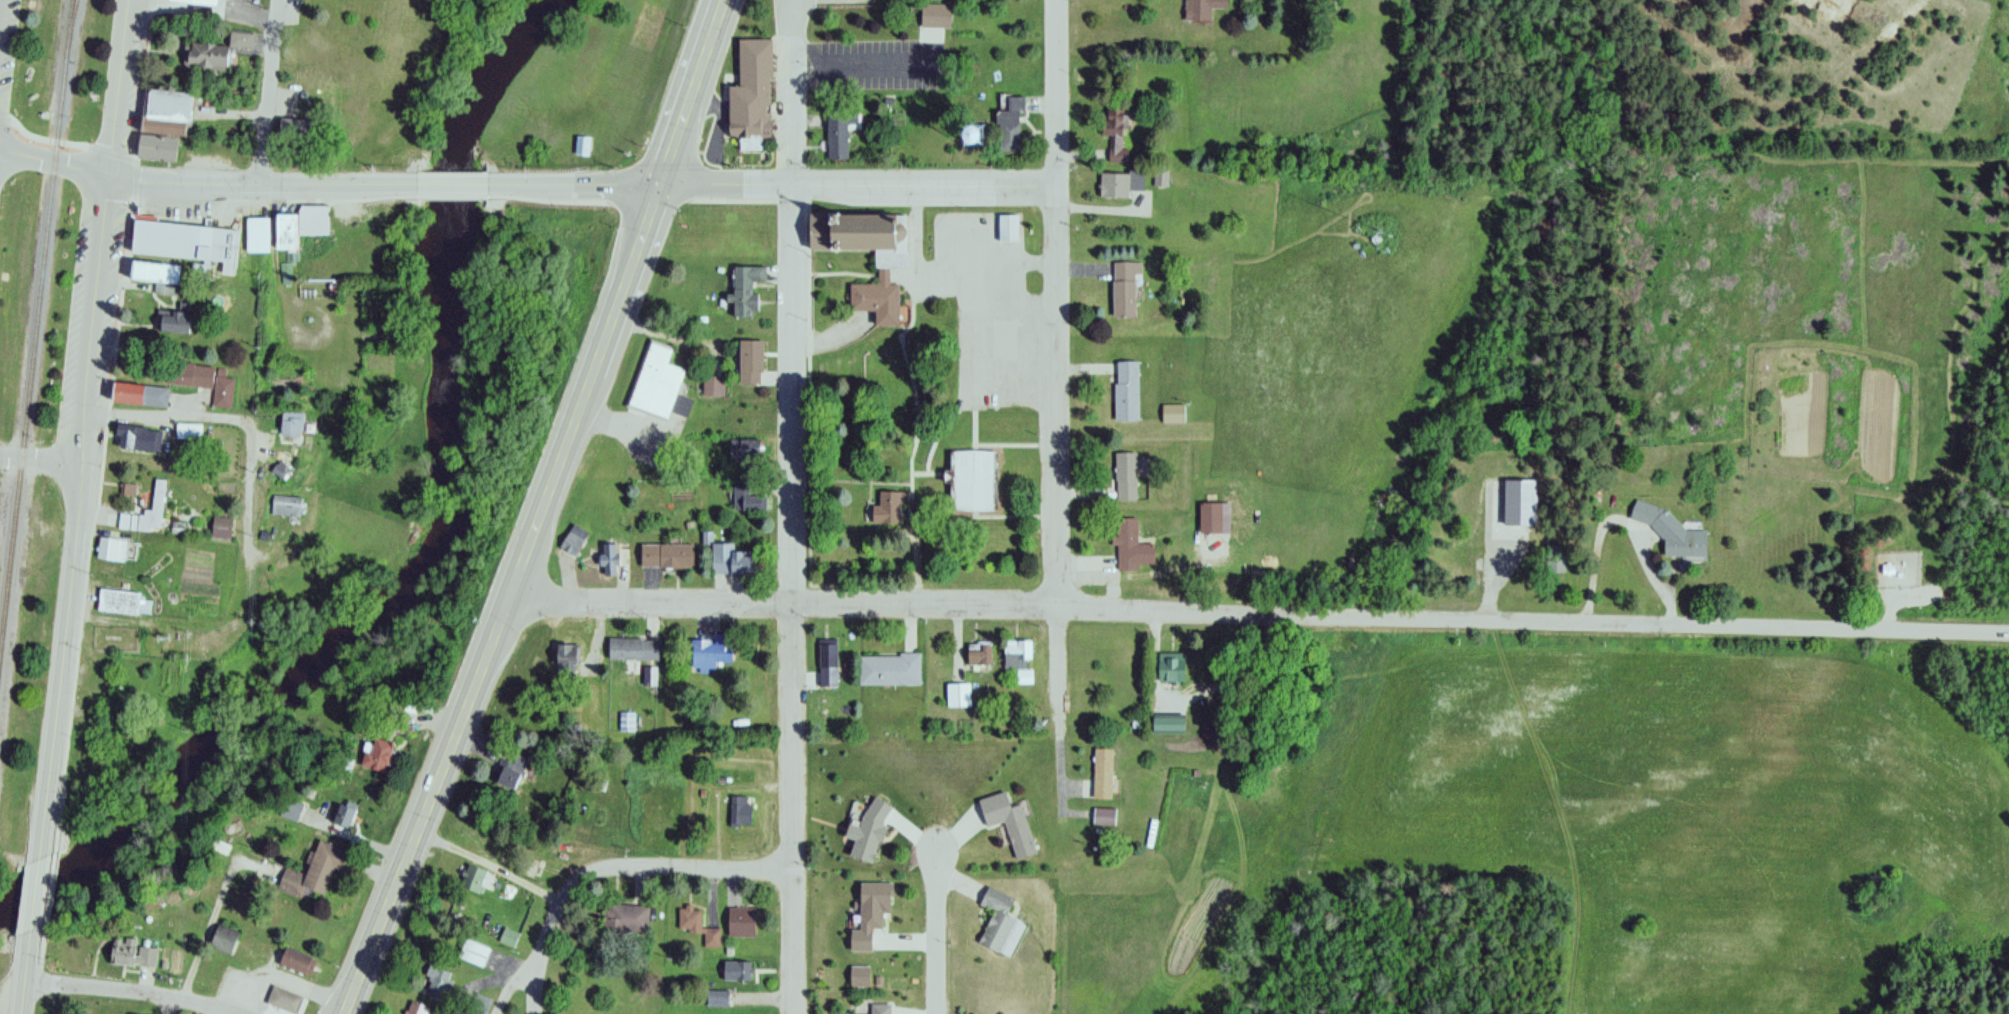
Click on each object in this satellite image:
building: (196, 2)
building: (1202, 9)
railway: (73, 17)
building: (932, 17)
building: (240, 32)
building: (204, 48)
road: (858, 69)
road: (269, 92)
building: (746, 94)
building: (167, 104)
building: (1007, 123)
building: (291, 126)
building: (834, 133)
building: (1115, 133)
water tower: (973, 134)
building: (156, 141)
building: (578, 145)
road: (55, 160)
building: (1120, 184)
road: (263, 185)
road: (453, 186)
road: (773, 187)
building: (314, 216)
building: (288, 224)
building: (1006, 224)
building: (258, 227)
building: (861, 233)
building: (178, 245)
building: (742, 287)
building: (1124, 289)
building: (876, 299)
building: (176, 312)
railway: (38, 324)
building: (745, 360)
road: (1056, 365)
building: (202, 372)
building: (654, 383)
building: (141, 385)
building: (708, 385)
building: (1126, 392)
building: (138, 395)
road: (163, 411)
building: (1174, 415)
building: (291, 418)
building: (753, 420)
building: (137, 427)
building: (189, 428)
road: (87, 429)
building: (753, 451)
road: (42, 459)
building: (279, 464)
building: (973, 476)
building: (1126, 477)
building: (127, 483)
building: (158, 497)
building: (741, 498)
road: (251, 501)
building: (284, 503)
building: (885, 504)
building: (1520, 504)
road: (785, 506)
road: (544, 511)
building: (144, 513)
building: (127, 515)
building: (1209, 518)
road: (1617, 518)
building: (220, 524)
building: (1672, 533)
building: (569, 538)
building: (111, 543)
river: (445, 543)
building: (1130, 547)
building: (664, 554)
building: (605, 558)
building: (730, 558)
building: (1556, 560)
building: (1889, 570)
power substation: (1894, 570)
building: (117, 595)
road: (1261, 610)
building: (628, 649)
building: (979, 650)
building: (707, 652)
building: (562, 653)
building: (1018, 653)
building: (1173, 657)
building: (823, 660)
building: (887, 666)
building: (645, 674)
building: (957, 689)
building: (623, 721)
building: (632, 724)
building: (377, 752)
building: (1104, 764)
building: (506, 766)
road: (1058, 768)
building: (595, 776)
building: (288, 807)
building: (1106, 808)
building: (343, 811)
building: (734, 811)
building: (1009, 812)
building: (1103, 818)
building: (866, 825)
road: (485, 863)
building: (313, 866)
road: (665, 870)
building: (473, 874)
road: (37, 895)
building: (869, 906)
building: (998, 909)
building: (625, 917)
building: (738, 920)
building: (693, 923)
road: (202, 933)
building: (506, 933)
road: (937, 933)
building: (219, 936)
building: (472, 948)
building: (130, 951)
road: (533, 954)
building: (295, 957)
building: (733, 966)
building: (859, 970)
road: (28, 972)
road: (279, 978)
building: (438, 978)
road: (506, 986)
road: (130, 991)
building: (714, 995)
building: (282, 996)
building: (479, 1000)
road: (173, 1005)
building: (875, 1006)
building: (416, 1009)
building: (452, 1010)
building: (137, 1012)

